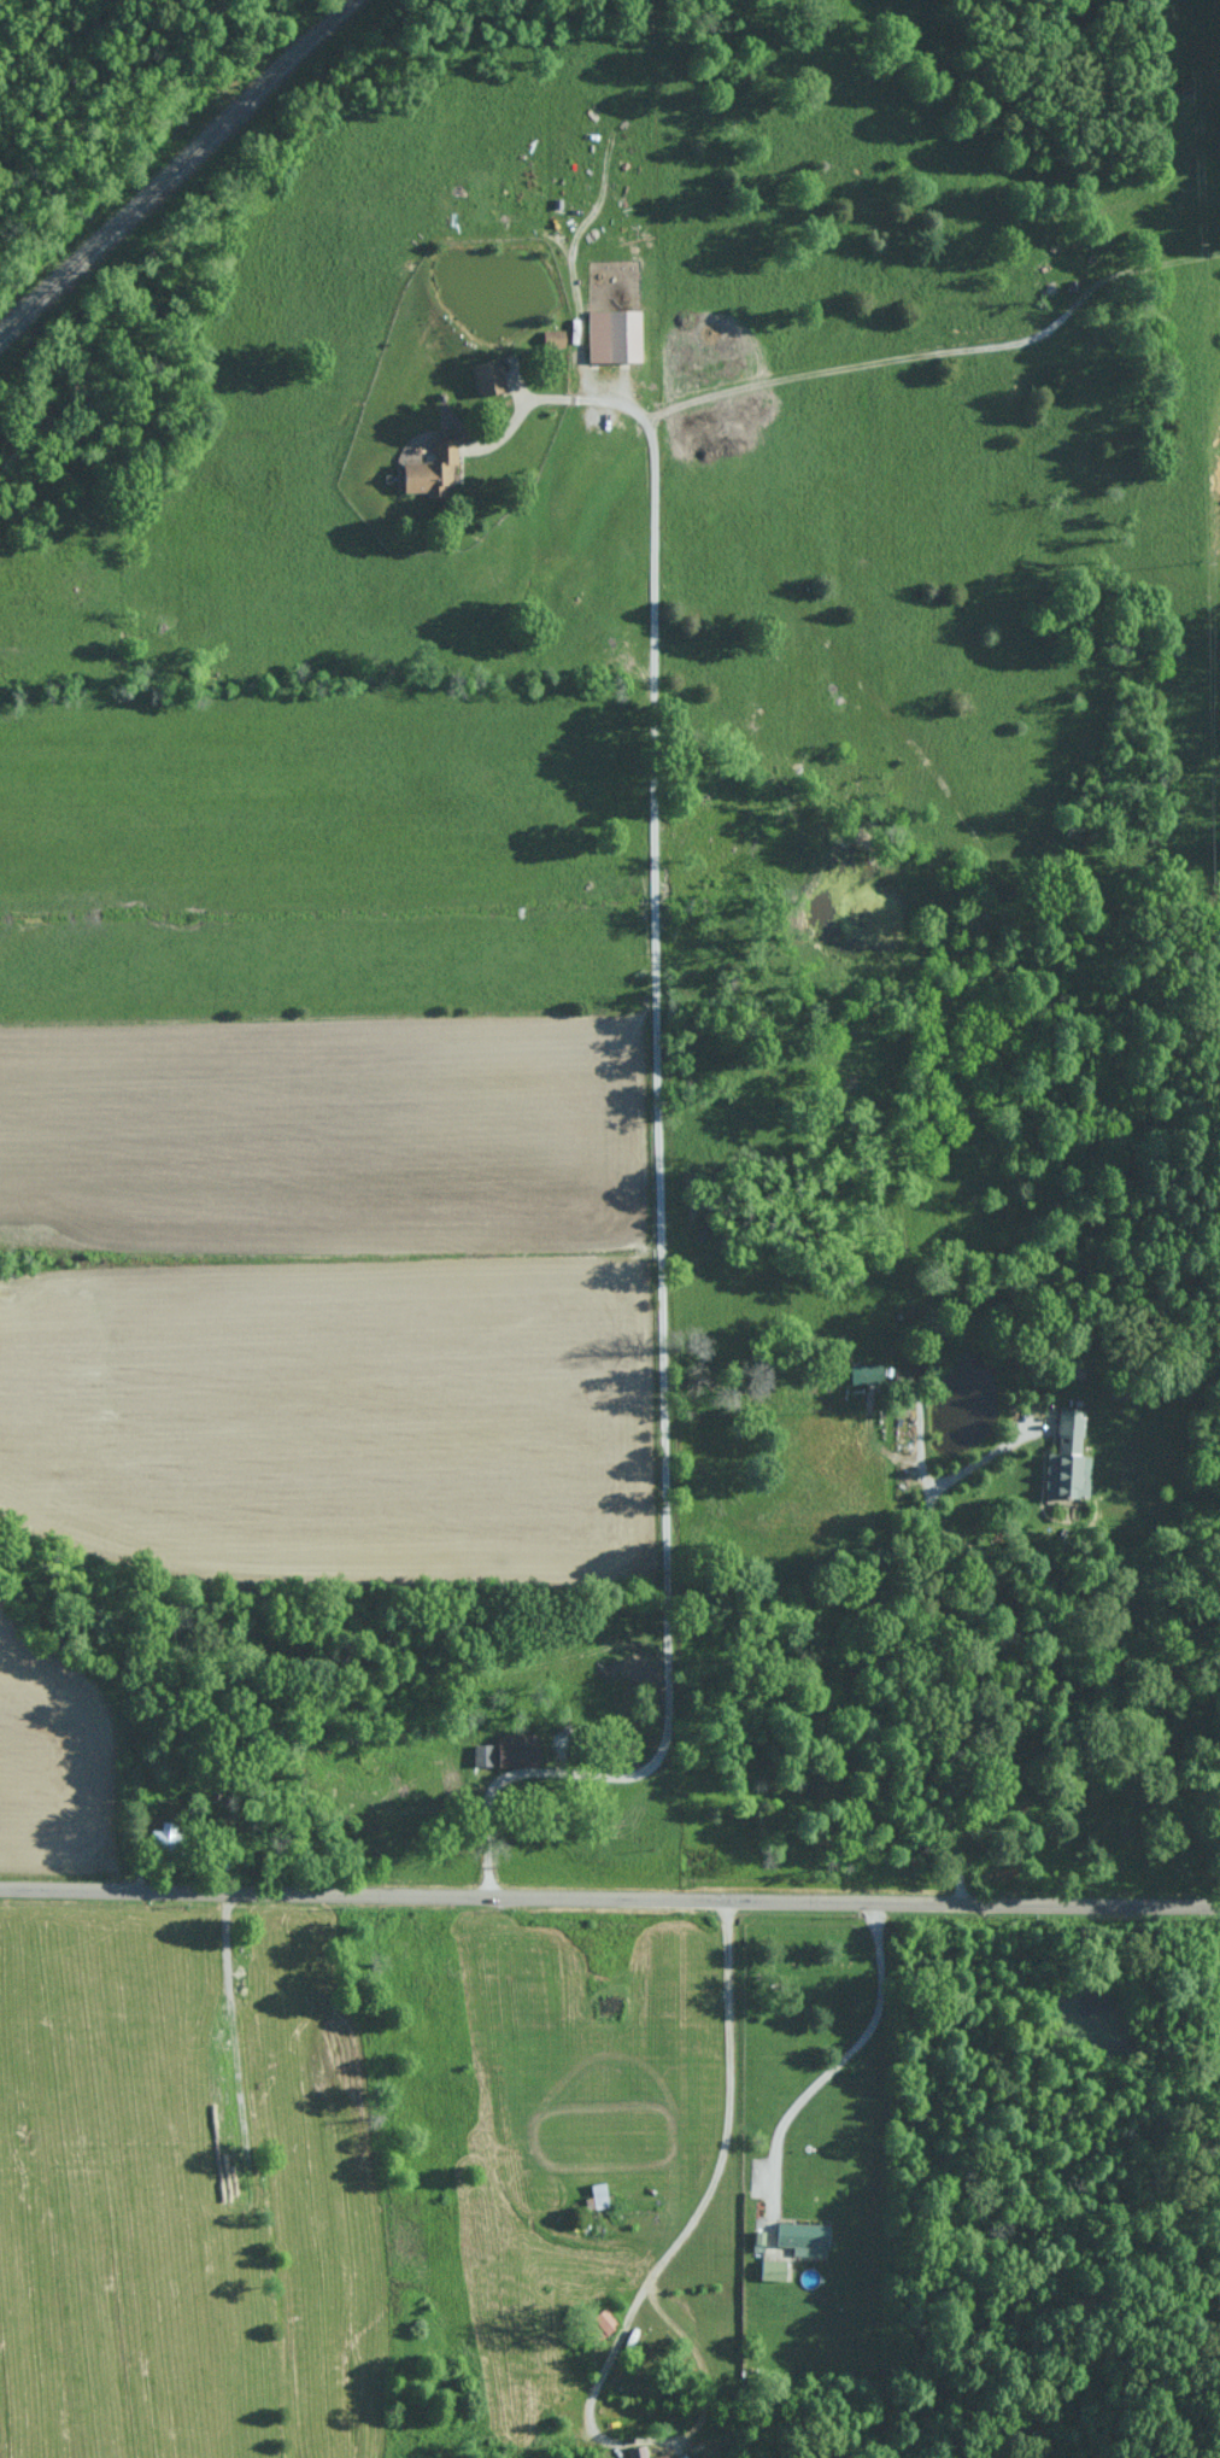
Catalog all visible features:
railway: (176, 168)
building: (615, 335)
building: (555, 338)
road: (939, 347)
building: (488, 376)
building: (432, 470)
road: (657, 1205)
building: (868, 1371)
building: (1068, 1457)
road: (937, 1641)
building: (520, 1749)
building: (483, 1752)
building: (168, 1836)
road: (609, 1897)
road: (841, 2056)
road: (712, 2187)
building: (804, 2237)
building: (773, 2269)
building: (643, 2452)
building: (673, 2457)

